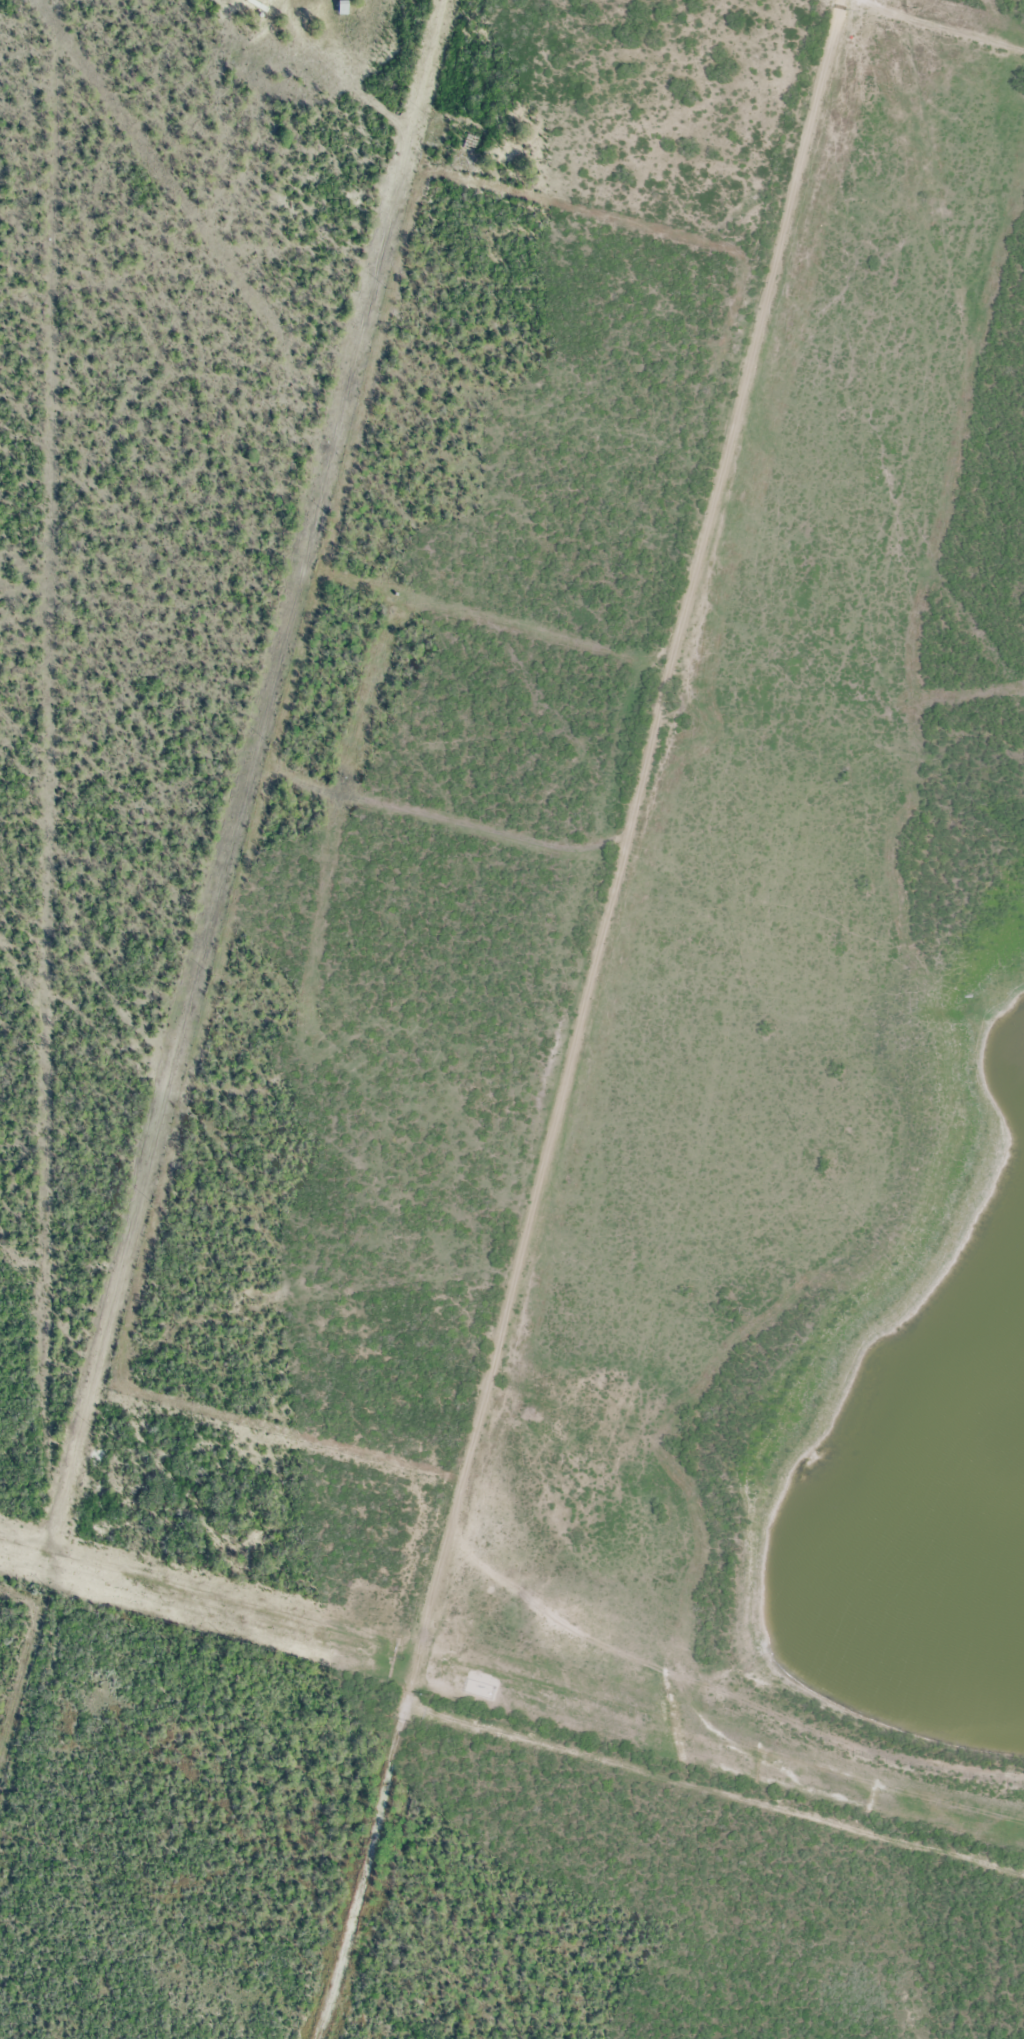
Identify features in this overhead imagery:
building: (340, 5)
road: (597, 1023)
road: (326, 1231)

